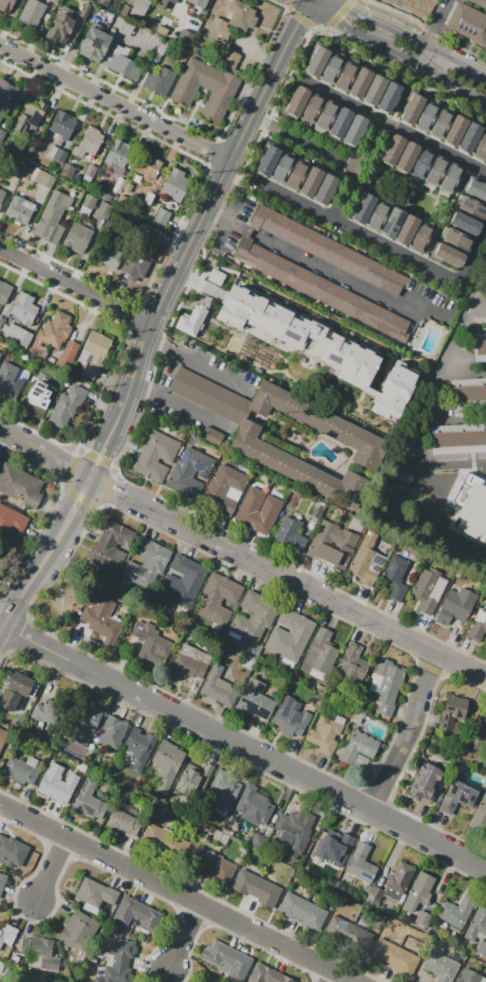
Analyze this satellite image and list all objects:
building: (54, 1)
building: (130, 1)
building: (172, 1)
building: (103, 2)
road: (295, 2)
road: (301, 2)
building: (414, 2)
building: (159, 3)
building: (198, 3)
building: (479, 3)
road: (335, 5)
building: (5, 6)
road: (319, 6)
building: (83, 7)
building: (139, 7)
road: (307, 8)
traffic signals: (348, 10)
building: (31, 13)
road: (294, 14)
building: (242, 17)
road: (327, 17)
road: (305, 19)
building: (170, 21)
road: (377, 22)
building: (467, 22)
traffic signals: (301, 23)
building: (60, 24)
road: (350, 27)
building: (217, 28)
road: (432, 30)
road: (370, 36)
road: (417, 38)
building: (94, 45)
road: (284, 46)
road: (391, 46)
building: (162, 47)
road: (449, 53)
road: (409, 56)
building: (230, 59)
building: (317, 60)
building: (124, 63)
road: (478, 67)
building: (332, 69)
road: (440, 74)
building: (346, 75)
building: (160, 79)
building: (360, 83)
building: (206, 88)
building: (374, 90)
building: (7, 95)
road: (474, 95)
building: (390, 97)
road: (114, 102)
building: (295, 102)
building: (311, 108)
building: (412, 108)
building: (30, 114)
building: (325, 115)
building: (427, 115)
building: (442, 121)
building: (341, 122)
building: (62, 125)
road: (389, 125)
building: (355, 129)
building: (455, 130)
building: (1, 133)
building: (470, 138)
building: (89, 142)
road: (305, 143)
building: (31, 144)
building: (480, 147)
building: (393, 149)
building: (57, 154)
building: (117, 156)
building: (407, 156)
building: (267, 160)
building: (485, 162)
building: (422, 163)
building: (283, 166)
building: (21, 167)
building: (146, 168)
building: (67, 170)
building: (90, 170)
road: (358, 170)
building: (436, 171)
building: (297, 173)
building: (42, 178)
building: (450, 178)
building: (311, 182)
building: (118, 185)
building: (176, 185)
building: (325, 189)
building: (476, 189)
building: (2, 194)
building: (148, 198)
building: (88, 201)
building: (473, 207)
building: (363, 208)
building: (104, 209)
building: (20, 210)
building: (53, 215)
building: (161, 216)
building: (378, 216)
road: (224, 220)
building: (392, 223)
building: (466, 223)
road: (356, 230)
building: (407, 230)
road: (247, 231)
building: (148, 232)
building: (77, 238)
building: (422, 238)
building: (459, 240)
building: (328, 250)
building: (107, 255)
building: (450, 255)
road: (472, 255)
building: (135, 266)
road: (176, 270)
road: (332, 272)
road: (75, 286)
building: (321, 289)
building: (5, 292)
building: (24, 308)
building: (1, 322)
building: (191, 325)
building: (55, 330)
building: (298, 334)
building: (18, 335)
road: (451, 340)
building: (479, 347)
building: (68, 353)
building: (93, 353)
road: (200, 363)
building: (45, 367)
building: (9, 381)
building: (468, 392)
building: (207, 394)
building: (37, 397)
building: (67, 406)
road: (181, 407)
road: (243, 410)
road: (253, 416)
building: (322, 425)
building: (212, 436)
building: (458, 438)
building: (155, 455)
building: (0, 461)
road: (346, 461)
building: (299, 467)
building: (190, 471)
building: (465, 481)
building: (444, 482)
building: (481, 482)
building: (424, 483)
building: (19, 485)
building: (405, 487)
building: (223, 489)
building: (246, 511)
building: (485, 514)
building: (474, 519)
building: (11, 521)
building: (449, 523)
building: (289, 534)
building: (107, 544)
building: (331, 547)
road: (44, 553)
road: (242, 556)
building: (366, 559)
building: (147, 564)
building: (396, 577)
building: (182, 582)
building: (428, 590)
building: (217, 598)
building: (455, 605)
building: (254, 617)
building: (101, 620)
road: (0, 625)
building: (478, 627)
building: (290, 635)
building: (149, 641)
building: (319, 653)
building: (189, 662)
building: (353, 662)
building: (218, 686)
building: (386, 686)
building: (15, 691)
building: (254, 701)
building: (451, 712)
building: (43, 713)
building: (290, 717)
building: (87, 725)
building: (113, 731)
building: (325, 733)
road: (405, 734)
building: (477, 734)
building: (2, 738)
building: (139, 745)
road: (243, 748)
building: (359, 749)
building: (167, 761)
building: (21, 774)
building: (193, 778)
building: (427, 783)
building: (224, 789)
building: (56, 790)
building: (457, 797)
building: (90, 806)
building: (254, 806)
building: (478, 813)
building: (124, 824)
building: (294, 826)
building: (163, 840)
building: (333, 849)
building: (11, 853)
building: (360, 863)
building: (210, 865)
road: (53, 870)
building: (2, 882)
building: (398, 883)
building: (256, 889)
building: (98, 891)
road: (177, 893)
building: (420, 899)
building: (138, 911)
building: (302, 912)
building: (456, 913)
building: (477, 924)
building: (74, 929)
building: (0, 933)
building: (348, 933)
road: (186, 935)
building: (43, 952)
building: (394, 957)
building: (224, 959)
building: (119, 960)
building: (440, 965)
building: (267, 975)
road: (330, 976)
building: (469, 976)
building: (209, 981)
building: (211, 981)

